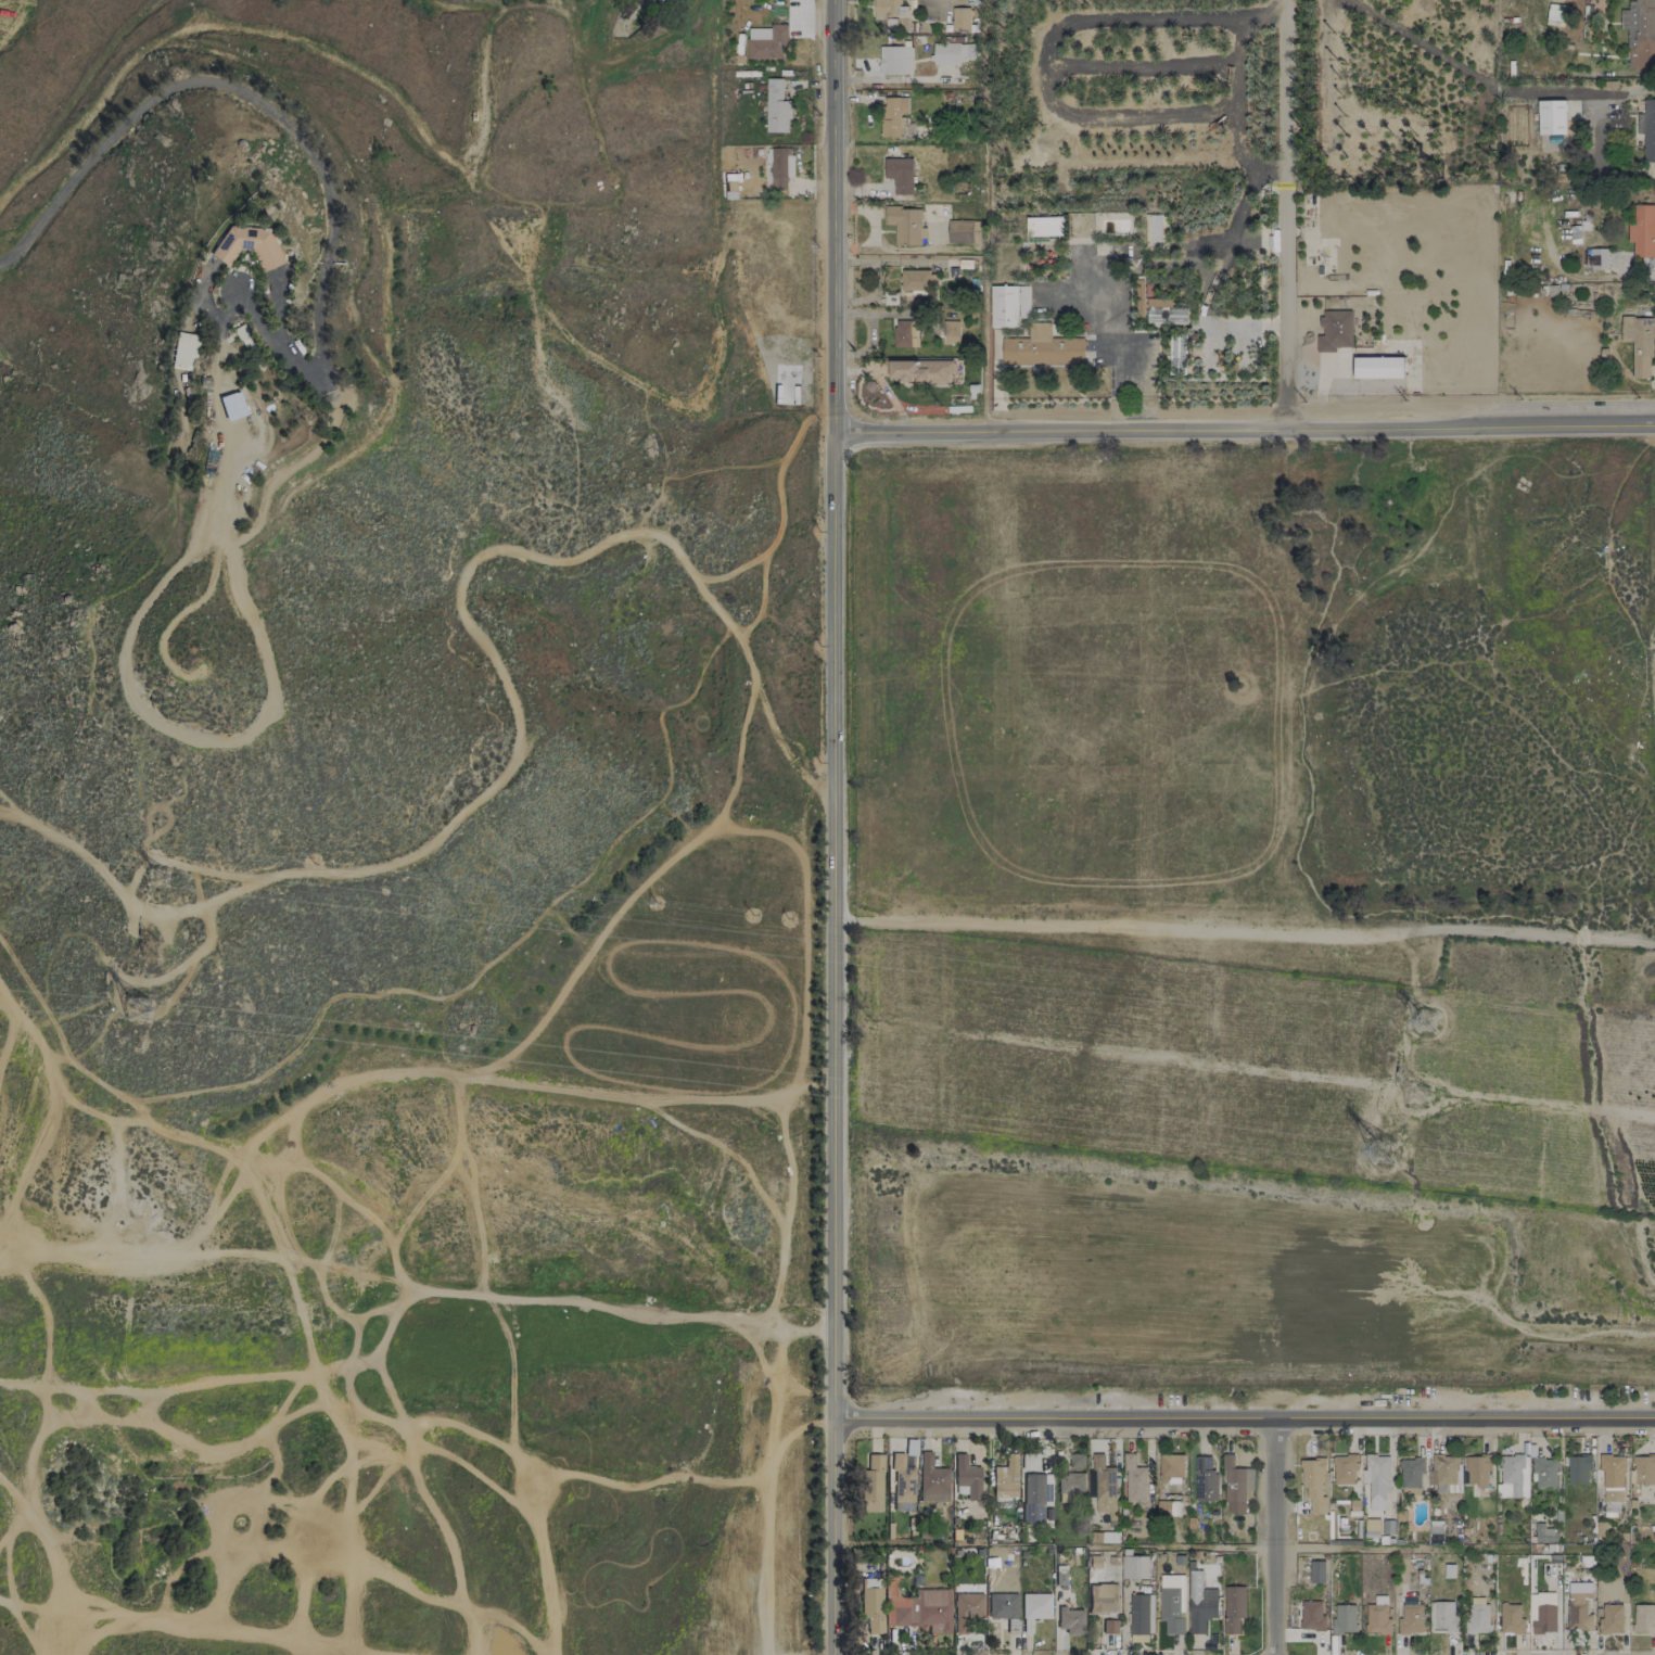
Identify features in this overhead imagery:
building: (889, 9)
building: (1556, 13)
building: (959, 17)
building: (1639, 34)
building: (766, 41)
building: (953, 52)
building: (895, 60)
road: (238, 88)
building: (776, 107)
building: (893, 116)
building: (1551, 117)
building: (1647, 129)
road: (1594, 131)
building: (780, 166)
building: (899, 174)
road: (1286, 215)
building: (904, 225)
building: (1044, 226)
building: (1154, 228)
building: (1642, 230)
building: (963, 231)
building: (247, 246)
building: (1596, 258)
road: (5, 267)
building: (917, 280)
road: (201, 296)
building: (890, 298)
building: (1022, 302)
building: (1003, 306)
road: (230, 308)
building: (1166, 315)
building: (1334, 330)
building: (950, 331)
building: (902, 333)
building: (242, 336)
road: (277, 341)
building: (1638, 344)
building: (1041, 347)
building: (184, 349)
building: (1176, 354)
building: (1378, 367)
building: (920, 371)
road: (217, 406)
building: (232, 406)
road: (1244, 431)
park: (1654, 522)
road: (462, 597)
road: (833, 711)
road: (91, 864)
power tower: (156, 875)
road: (1244, 932)
power tower: (149, 949)
road: (486, 968)
road: (136, 979)
power tower: (138, 1009)
power tower: (1424, 1020)
power tower: (1417, 1094)
power tower: (1384, 1151)
road: (1243, 1426)
building: (1171, 1468)
building: (1578, 1468)
building: (1643, 1468)
building: (1344, 1469)
building: (1442, 1469)
building: (1477, 1471)
building: (1544, 1472)
building: (1514, 1474)
building: (1411, 1475)
building: (967, 1477)
building: (1005, 1478)
building: (1612, 1478)
building: (1204, 1479)
building: (1376, 1479)
building: (902, 1480)
building: (932, 1480)
building: (1134, 1480)
building: (873, 1485)
building: (1071, 1485)
building: (1312, 1485)
building: (1235, 1486)
building: (1104, 1487)
building: (1035, 1497)
building: (1544, 1533)
road: (833, 1539)
road: (1273, 1541)
road: (1396, 1549)
building: (1134, 1567)
building: (1316, 1571)
building: (1103, 1597)
building: (1171, 1603)
building: (873, 1604)
building: (1199, 1604)
building: (1035, 1605)
building: (1003, 1606)
building: (1579, 1606)
building: (918, 1608)
building: (1233, 1608)
building: (967, 1611)
building: (1543, 1614)
building: (1442, 1615)
building: (1311, 1616)
building: (1410, 1616)
building: (1477, 1616)
building: (1137, 1617)
building: (1511, 1618)
building: (1611, 1618)
building: (1643, 1618)
building: (1344, 1619)
building: (1376, 1619)
building: (1070, 1620)
building: (1109, 1627)

